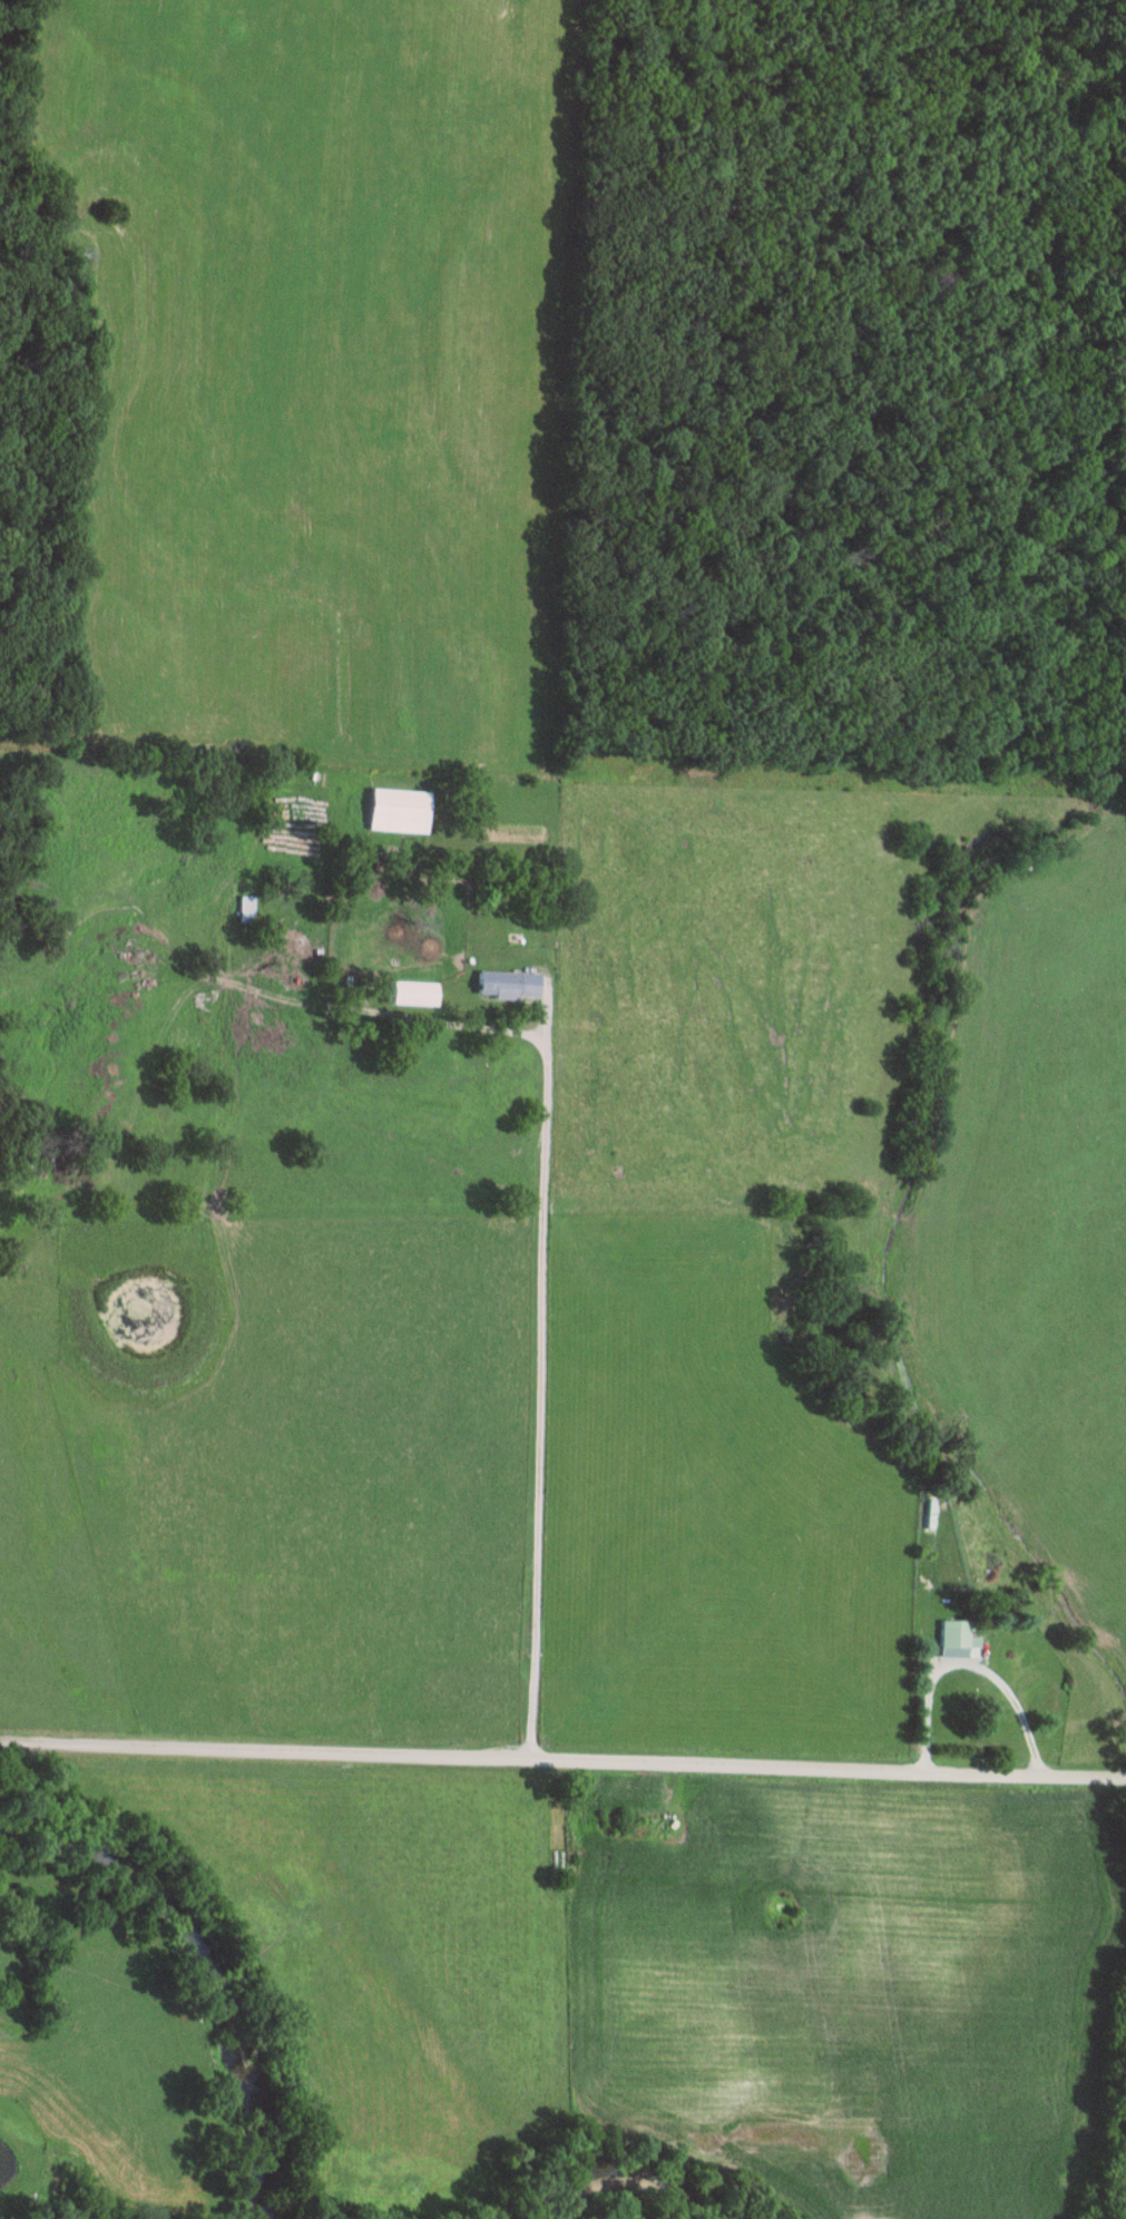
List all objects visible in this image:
building: (401, 808)
building: (247, 907)
building: (391, 931)
road: (501, 964)
building: (510, 981)
building: (415, 991)
road: (538, 1398)
building: (958, 1633)
building: (1007, 1668)
road: (924, 1692)
road: (562, 1759)
building: (609, 1818)

